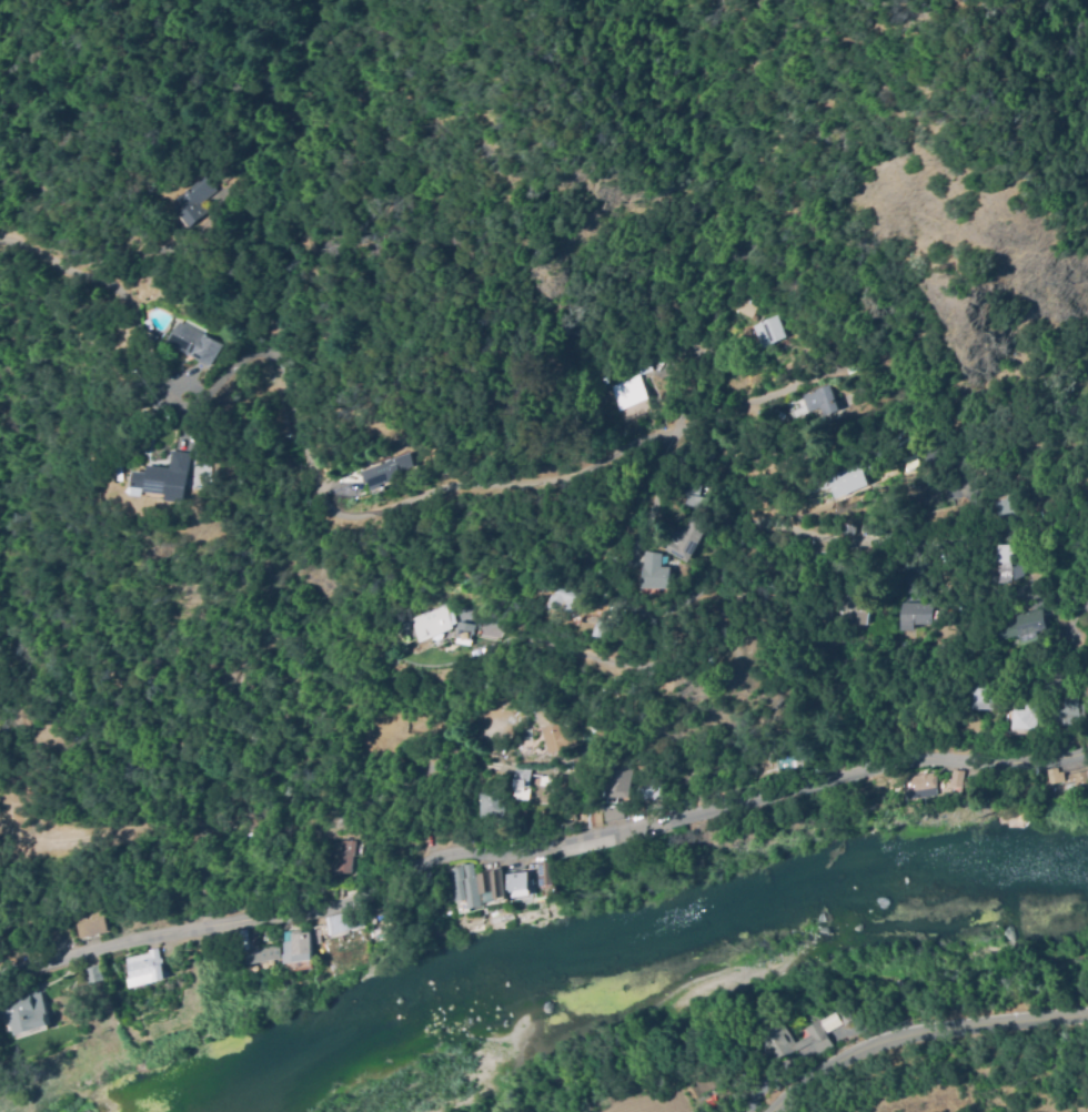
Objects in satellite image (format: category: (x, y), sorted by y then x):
building: (189, 199)
building: (744, 307)
building: (768, 332)
building: (195, 340)
building: (625, 387)
building: (814, 402)
road: (735, 405)
road: (302, 436)
building: (703, 455)
building: (385, 469)
building: (171, 473)
building: (849, 481)
building: (692, 494)
building: (1004, 503)
road: (775, 529)
building: (692, 534)
building: (1006, 565)
building: (845, 566)
building: (657, 567)
building: (1037, 576)
building: (908, 584)
road: (988, 589)
building: (561, 599)
building: (852, 606)
building: (911, 615)
road: (501, 618)
building: (432, 621)
building: (1022, 626)
building: (598, 627)
building: (463, 630)
building: (1050, 683)
building: (984, 691)
building: (816, 694)
building: (1067, 711)
building: (1026, 717)
building: (554, 724)
building: (790, 757)
building: (1050, 772)
building: (961, 774)
building: (755, 776)
building: (522, 778)
building: (956, 778)
building: (1077, 780)
building: (616, 784)
building: (919, 786)
building: (886, 789)
building: (646, 790)
building: (522, 793)
building: (491, 805)
building: (611, 810)
building: (522, 815)
building: (588, 818)
building: (430, 825)
road: (544, 851)
building: (343, 856)
building: (545, 872)
building: (518, 878)
building: (495, 881)
building: (464, 884)
building: (344, 920)
building: (90, 921)
river: (656, 933)
building: (253, 940)
building: (296, 947)
building: (323, 947)
building: (262, 952)
building: (145, 969)
building: (94, 975)
building: (0, 1003)
building: (27, 1012)
building: (832, 1022)
road: (917, 1030)
building: (774, 1042)

